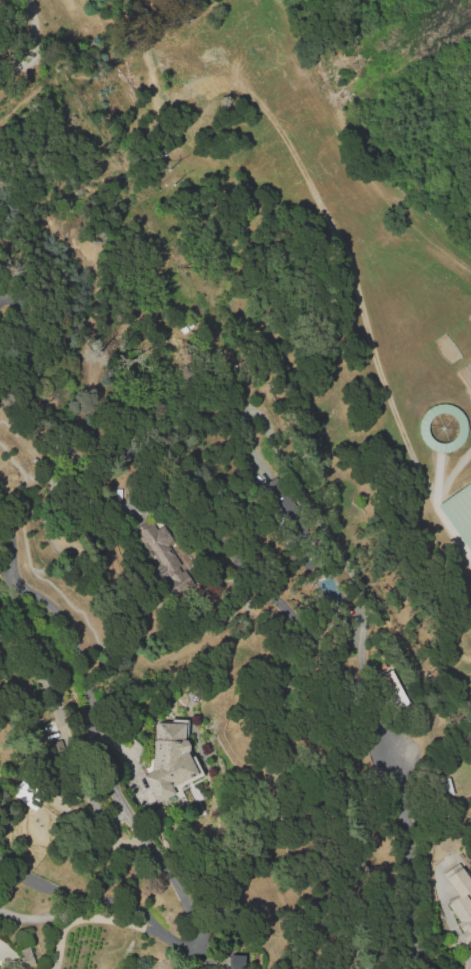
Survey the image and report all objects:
road: (32, 45)
building: (441, 426)
building: (279, 501)
building: (459, 511)
park: (459, 511)
building: (163, 550)
road: (463, 551)
road: (288, 612)
building: (390, 690)
building: (172, 761)
building: (23, 793)
road: (135, 824)
building: (462, 900)
road: (30, 917)
road: (113, 920)
road: (58, 943)
road: (9, 958)
building: (237, 962)
building: (0, 968)

